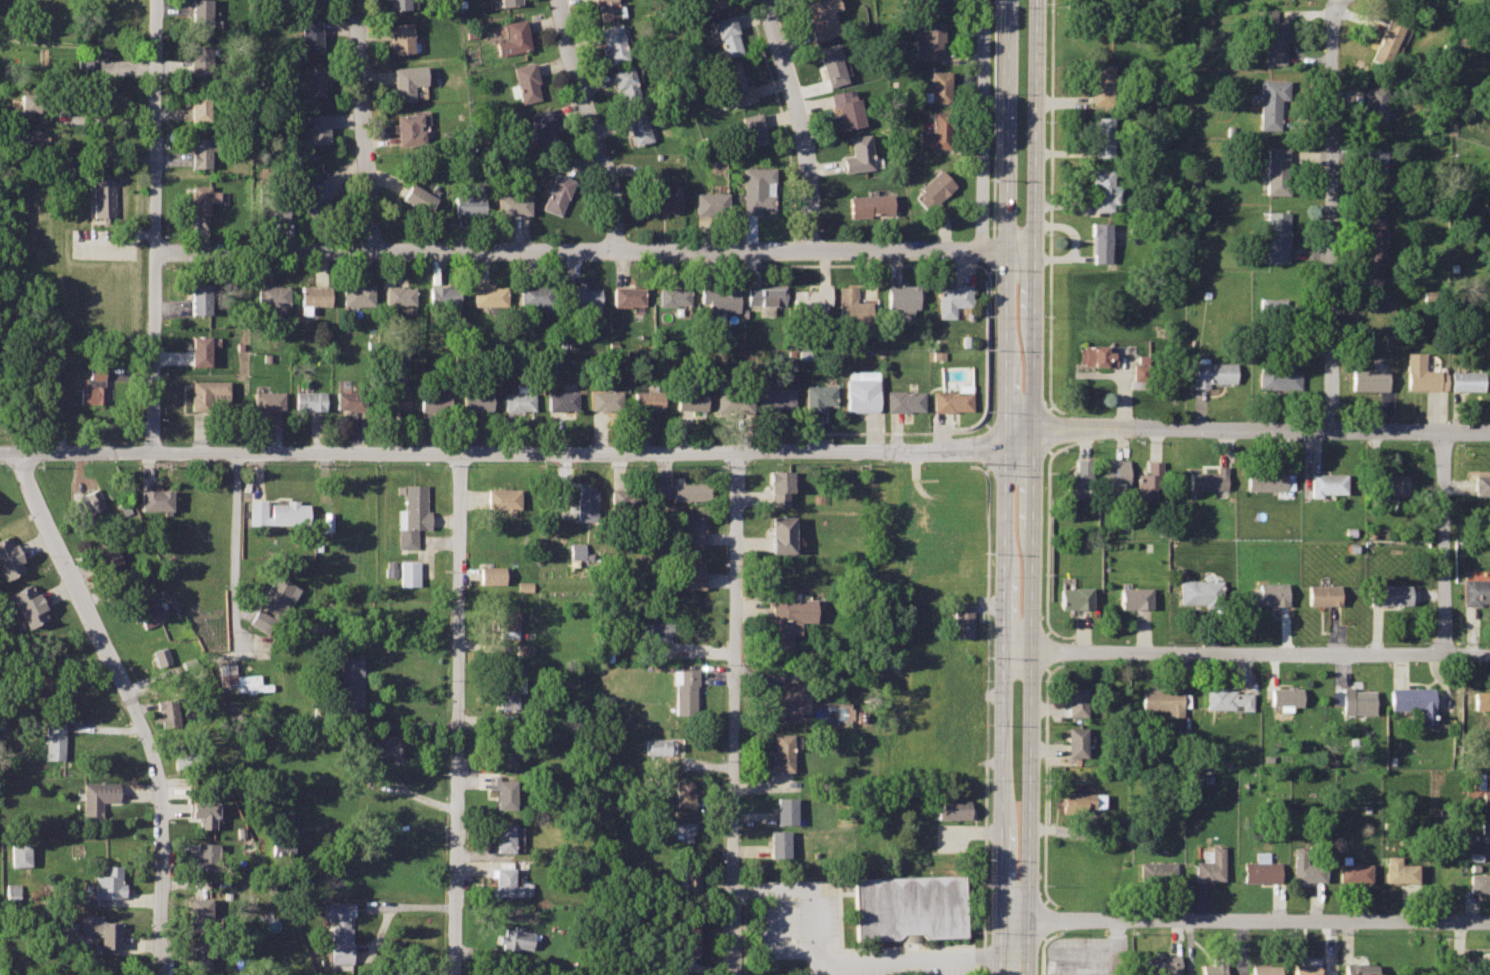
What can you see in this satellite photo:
building: (308, 1)
building: (511, 2)
building: (399, 3)
building: (716, 3)
building: (933, 5)
building: (607, 8)
building: (201, 13)
building: (823, 18)
building: (725, 33)
building: (311, 35)
building: (1272, 35)
building: (402, 37)
building: (515, 37)
building: (1386, 39)
building: (929, 40)
building: (613, 43)
building: (200, 58)
building: (83, 62)
building: (833, 66)
building: (409, 80)
building: (313, 81)
building: (527, 81)
building: (625, 82)
building: (1102, 83)
building: (736, 84)
building: (939, 85)
building: (33, 101)
building: (1271, 101)
building: (1374, 101)
building: (201, 105)
building: (847, 107)
road: (781, 117)
road: (996, 118)
road: (102, 120)
road: (799, 122)
road: (590, 123)
road: (364, 124)
road: (984, 124)
building: (543, 125)
building: (637, 125)
building: (412, 127)
building: (316, 128)
building: (754, 130)
building: (937, 130)
building: (1103, 134)
building: (32, 135)
building: (202, 149)
building: (859, 155)
building: (1277, 168)
building: (1375, 169)
building: (1489, 179)
building: (934, 186)
building: (1103, 187)
building: (756, 189)
building: (558, 192)
building: (102, 194)
building: (314, 194)
building: (202, 197)
building: (419, 197)
building: (471, 201)
building: (271, 202)
building: (661, 202)
building: (513, 203)
building: (711, 204)
building: (1487, 204)
building: (871, 205)
road: (1050, 208)
road: (1035, 214)
road: (1328, 214)
road: (156, 227)
building: (1276, 234)
building: (1102, 240)
road: (793, 244)
parking lot: (104, 245)
building: (1374, 245)
road: (596, 248)
road: (992, 255)
road: (849, 263)
road: (709, 267)
building: (271, 293)
building: (356, 294)
building: (399, 294)
building: (442, 294)
building: (489, 294)
building: (536, 294)
building: (628, 295)
building: (674, 295)
building: (767, 295)
building: (200, 296)
building: (312, 296)
building: (904, 297)
building: (581, 298)
building: (811, 298)
building: (953, 298)
building: (722, 300)
building: (1272, 305)
building: (852, 307)
road: (989, 347)
building: (200, 349)
building: (1096, 354)
building: (1142, 358)
building: (1211, 370)
building: (1422, 372)
building: (1139, 375)
building: (1276, 375)
building: (1369, 378)
building: (1467, 380)
building: (93, 385)
building: (206, 391)
building: (861, 394)
building: (818, 396)
building: (435, 397)
building: (692, 397)
building: (732, 398)
building: (268, 399)
building: (309, 399)
building: (349, 399)
building: (393, 399)
building: (605, 399)
building: (775, 399)
building: (904, 399)
building: (951, 399)
building: (477, 400)
building: (519, 400)
building: (561, 400)
building: (648, 400)
road: (1017, 416)
road: (985, 424)
road: (1046, 428)
road: (743, 430)
road: (1262, 430)
road: (848, 431)
road: (1083, 444)
road: (989, 447)
road: (595, 452)
road: (75, 456)
road: (1016, 456)
road: (1004, 461)
building: (1078, 478)
building: (1116, 478)
building: (1149, 478)
building: (1208, 478)
building: (1268, 478)
building: (1326, 483)
building: (1389, 483)
building: (1482, 484)
building: (778, 486)
building: (682, 491)
building: (624, 498)
building: (157, 499)
building: (504, 499)
building: (586, 502)
building: (90, 504)
building: (278, 512)
building: (411, 514)
building: (327, 521)
building: (692, 530)
building: (782, 532)
road: (1046, 540)
road: (1444, 542)
building: (6, 546)
road: (237, 550)
building: (579, 551)
building: (108, 552)
building: (10, 564)
building: (409, 572)
building: (692, 573)
building: (491, 574)
building: (523, 586)
building: (1475, 590)
building: (1200, 591)
building: (1268, 593)
building: (1323, 593)
building: (1390, 593)
building: (277, 594)
building: (25, 595)
building: (1076, 596)
building: (1135, 596)
building: (32, 612)
building: (151, 614)
building: (789, 618)
building: (964, 620)
building: (265, 621)
building: (508, 623)
road: (1082, 629)
building: (662, 630)
building: (524, 649)
road: (1045, 650)
road: (1247, 652)
building: (161, 655)
road: (1031, 675)
building: (47, 676)
building: (242, 679)
building: (351, 681)
building: (685, 692)
building: (507, 693)
building: (1284, 696)
building: (1226, 698)
building: (1185, 699)
building: (1481, 699)
building: (1076, 700)
building: (1162, 700)
building: (1358, 700)
building: (1414, 700)
building: (795, 702)
road: (132, 707)
building: (168, 711)
road: (735, 712)
road: (457, 714)
building: (1183, 736)
building: (55, 739)
building: (1076, 741)
building: (383, 745)
building: (658, 746)
building: (506, 750)
building: (781, 751)
building: (187, 759)
road: (1045, 783)
building: (1483, 787)
building: (506, 793)
building: (684, 794)
road: (412, 796)
building: (99, 798)
building: (1080, 803)
building: (785, 808)
building: (953, 809)
building: (204, 812)
road: (383, 828)
building: (682, 829)
building: (1485, 830)
building: (284, 836)
building: (508, 837)
parking lot: (952, 839)
building: (779, 842)
building: (20, 854)
building: (206, 855)
building: (1210, 865)
building: (1306, 866)
building: (1262, 869)
building: (1354, 869)
building: (1400, 870)
building: (1156, 871)
building: (691, 881)
building: (1479, 881)
building: (110, 882)
building: (510, 882)
building: (12, 891)
road: (751, 891)
road: (766, 896)
road: (397, 906)
building: (908, 906)
building: (200, 914)
road: (1041, 918)
road: (1252, 921)
building: (69, 929)
building: (102, 929)
building: (340, 930)
parking lot: (829, 934)
building: (686, 936)
building: (515, 938)
road: (1016, 947)
road: (1113, 948)
road: (1040, 949)
building: (199, 956)
road: (910, 963)
building: (1477, 963)
building: (1162, 964)
building: (1214, 966)
building: (1306, 969)
building: (1360, 969)
building: (1267, 970)
building: (501, 974)

